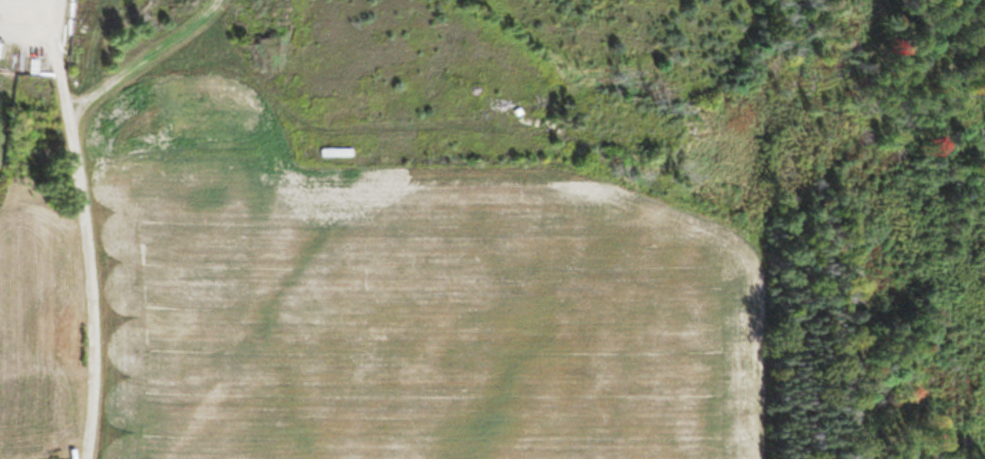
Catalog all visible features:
road: (149, 50)
building: (334, 153)
road: (94, 252)

